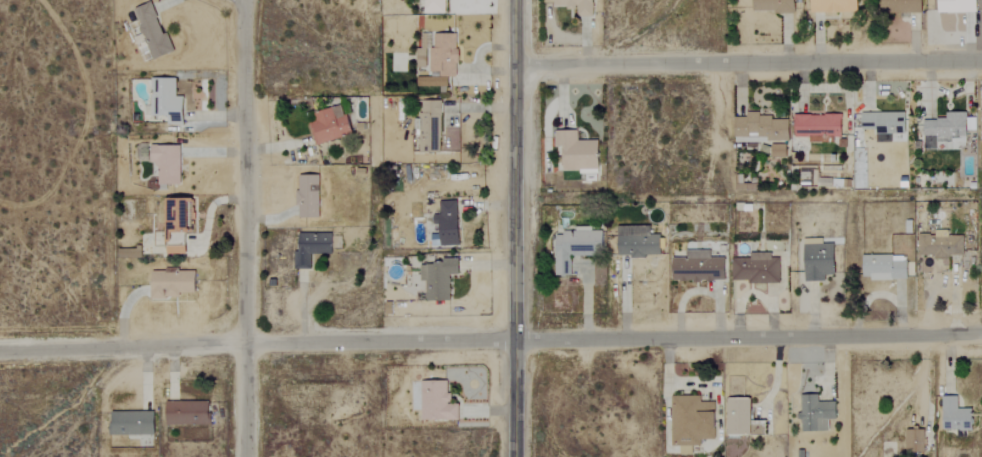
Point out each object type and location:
building: (773, 5)
building: (433, 6)
building: (576, 6)
building: (833, 6)
building: (906, 6)
building: (956, 6)
building: (151, 33)
building: (443, 54)
road: (748, 63)
building: (166, 100)
building: (884, 123)
building: (329, 125)
building: (428, 125)
building: (981, 125)
building: (760, 127)
building: (818, 127)
building: (946, 127)
building: (777, 151)
building: (577, 152)
building: (166, 163)
building: (307, 196)
building: (177, 223)
building: (447, 223)
road: (246, 228)
road: (513, 228)
building: (637, 241)
building: (940, 246)
building: (576, 247)
building: (311, 248)
building: (129, 250)
building: (819, 260)
building: (700, 267)
building: (884, 267)
building: (758, 268)
building: (438, 278)
building: (171, 284)
road: (490, 340)
building: (433, 400)
building: (186, 413)
building: (816, 413)
building: (955, 415)
building: (740, 416)
building: (694, 422)
building: (131, 423)
building: (760, 428)
building: (915, 441)

